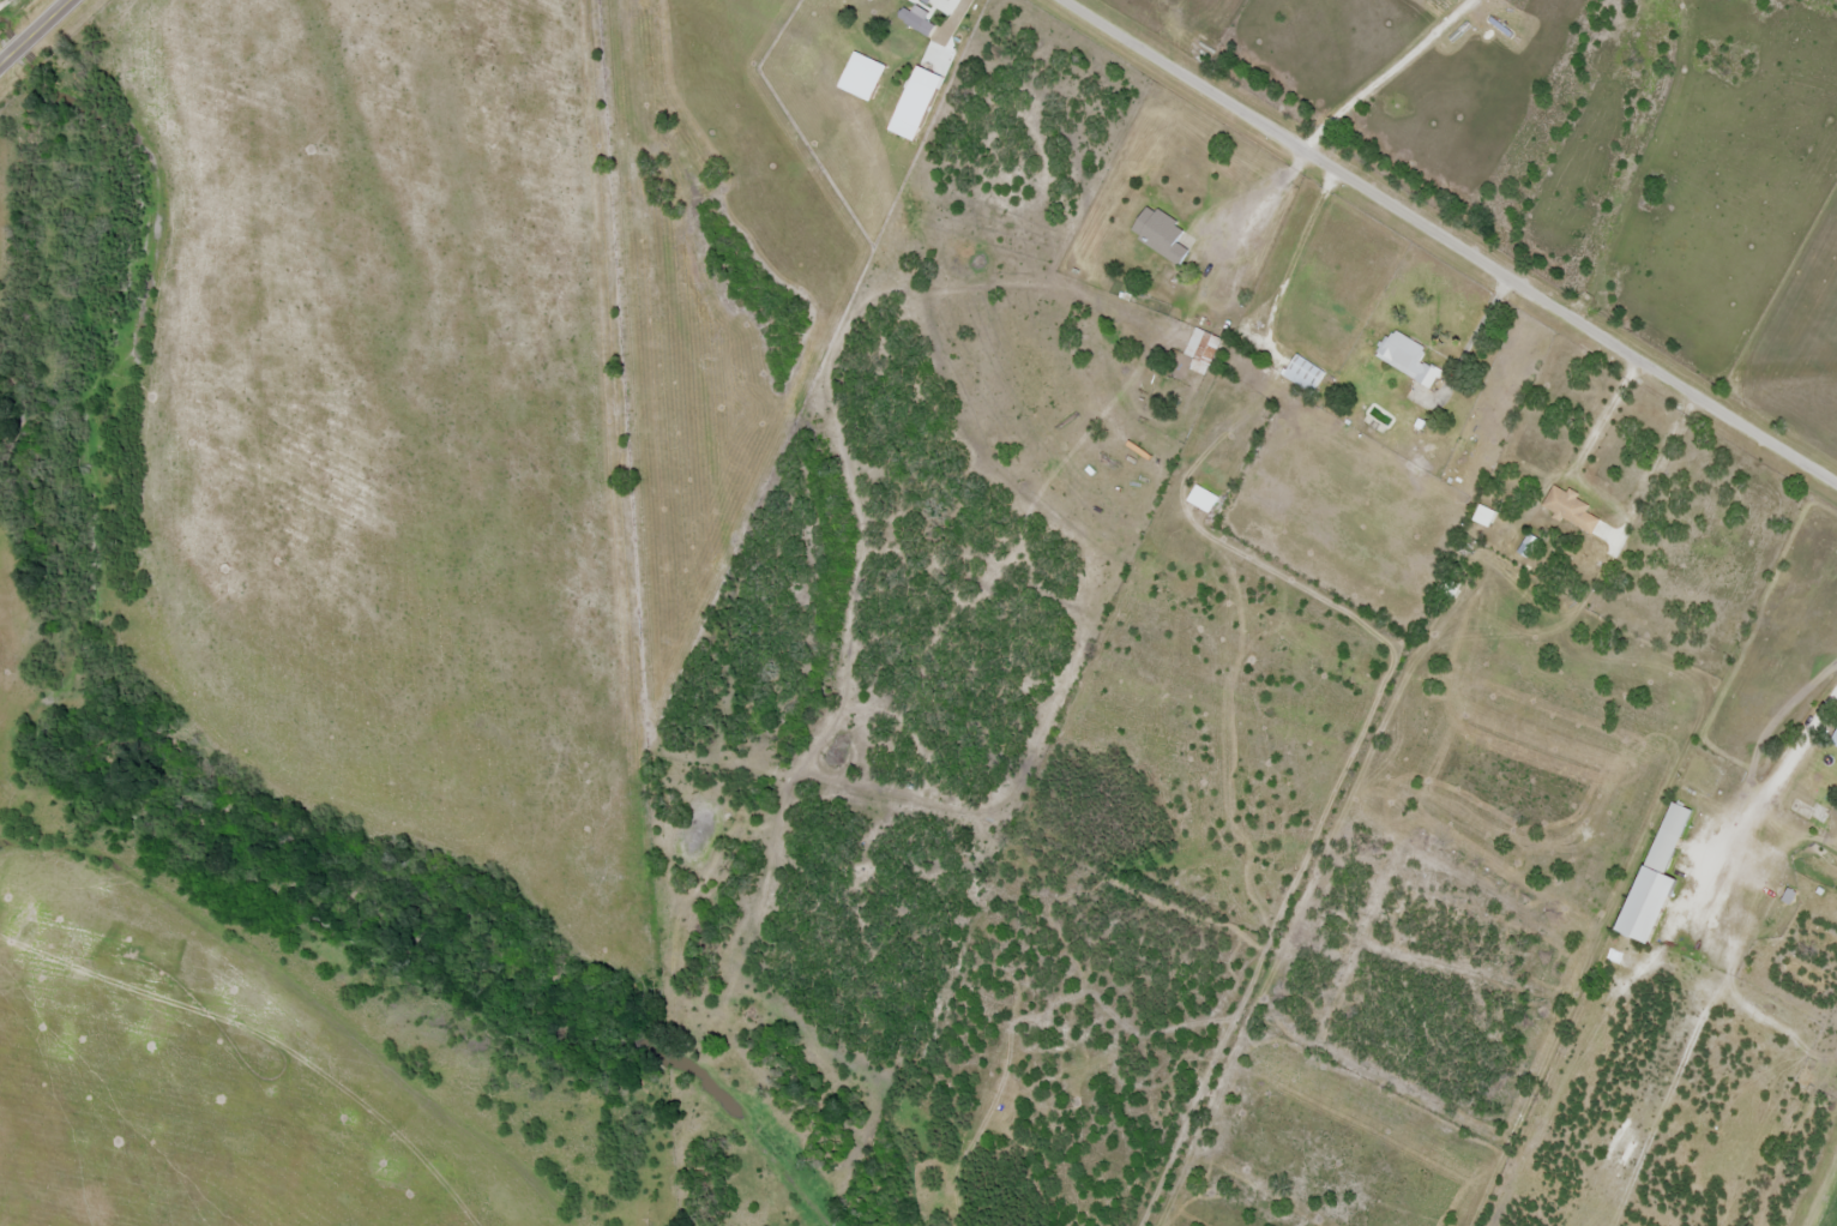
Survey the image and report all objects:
road: (35, 32)
road: (1450, 242)
building: (1409, 361)
building: (1833, 740)
road: (1803, 745)
building: (1652, 876)

